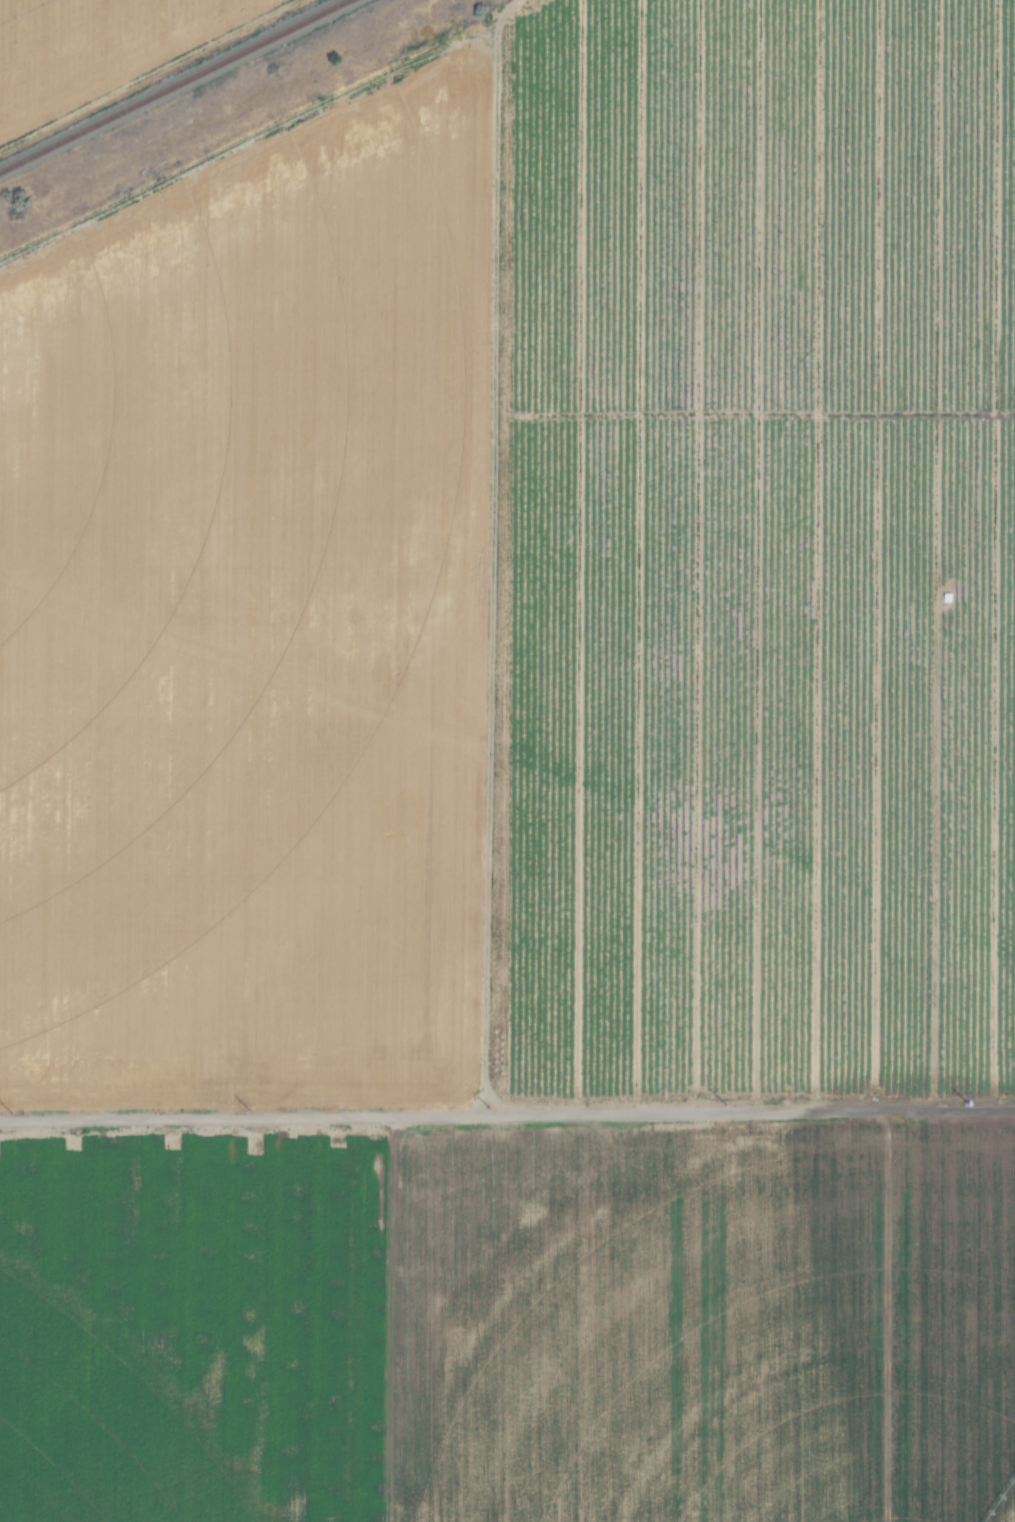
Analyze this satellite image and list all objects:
crop: (97, 48)
railway: (175, 91)
road: (507, 1115)

